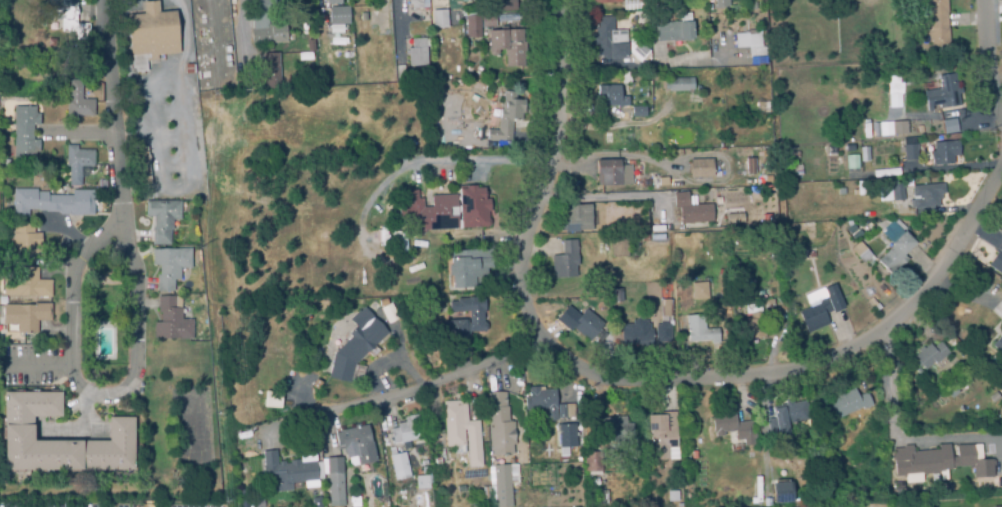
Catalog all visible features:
building: (439, 0)
building: (333, 2)
building: (605, 2)
building: (721, 3)
building: (634, 5)
building: (508, 6)
building: (263, 7)
building: (419, 7)
building: (339, 16)
building: (68, 19)
building: (440, 20)
building: (473, 22)
building: (942, 24)
road: (397, 30)
building: (673, 32)
building: (151, 36)
building: (270, 36)
building: (608, 41)
building: (752, 46)
building: (508, 47)
building: (637, 50)
building: (417, 54)
road: (987, 56)
road: (172, 66)
building: (188, 70)
building: (271, 72)
building: (400, 75)
building: (626, 79)
building: (678, 85)
power tower: (240, 90)
power tower: (212, 91)
building: (894, 91)
building: (948, 92)
building: (611, 97)
building: (694, 101)
building: (79, 103)
road: (115, 113)
building: (638, 113)
building: (507, 118)
building: (954, 127)
building: (881, 128)
building: (901, 129)
building: (25, 132)
building: (908, 150)
building: (949, 151)
road: (468, 158)
building: (77, 164)
building: (143, 164)
building: (701, 169)
road: (542, 172)
building: (613, 174)
building: (878, 191)
building: (898, 195)
building: (927, 196)
road: (608, 197)
building: (52, 204)
building: (688, 210)
building: (447, 211)
building: (163, 218)
building: (578, 218)
building: (734, 219)
building: (854, 231)
building: (846, 240)
building: (25, 241)
building: (398, 242)
power tower: (198, 244)
building: (895, 246)
building: (619, 247)
power tower: (225, 251)
building: (861, 253)
building: (567, 260)
building: (997, 261)
building: (170, 267)
building: (471, 268)
building: (27, 286)
building: (699, 290)
building: (614, 297)
building: (820, 307)
building: (665, 309)
building: (476, 317)
building: (26, 318)
building: (1001, 320)
building: (172, 321)
building: (754, 322)
building: (583, 324)
building: (700, 330)
building: (662, 332)
building: (637, 334)
building: (998, 344)
building: (355, 350)
building: (934, 354)
road: (45, 366)
road: (663, 384)
road: (100, 397)
building: (271, 398)
building: (542, 402)
building: (849, 404)
power tower: (216, 411)
building: (566, 412)
building: (791, 414)
power tower: (244, 427)
building: (617, 429)
building: (18, 430)
building: (407, 431)
building: (734, 432)
building: (462, 433)
building: (566, 438)
road: (894, 438)
building: (661, 440)
building: (356, 446)
building: (501, 447)
building: (829, 461)
building: (592, 462)
building: (942, 462)
building: (399, 464)
building: (280, 470)
building: (336, 483)
building: (422, 483)
building: (593, 483)
building: (782, 492)
building: (604, 498)
power tower: (223, 501)
building: (354, 502)

